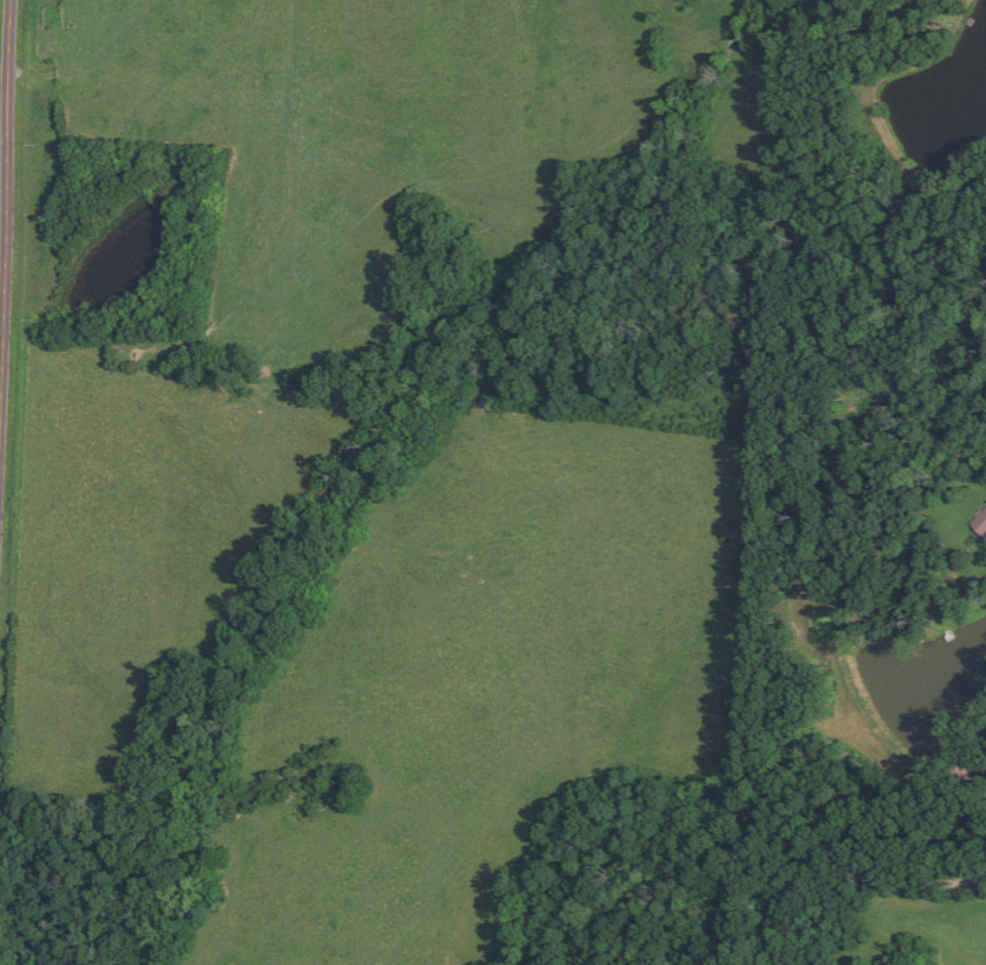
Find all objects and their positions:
road: (9, 223)
road: (3, 330)
building: (980, 523)

